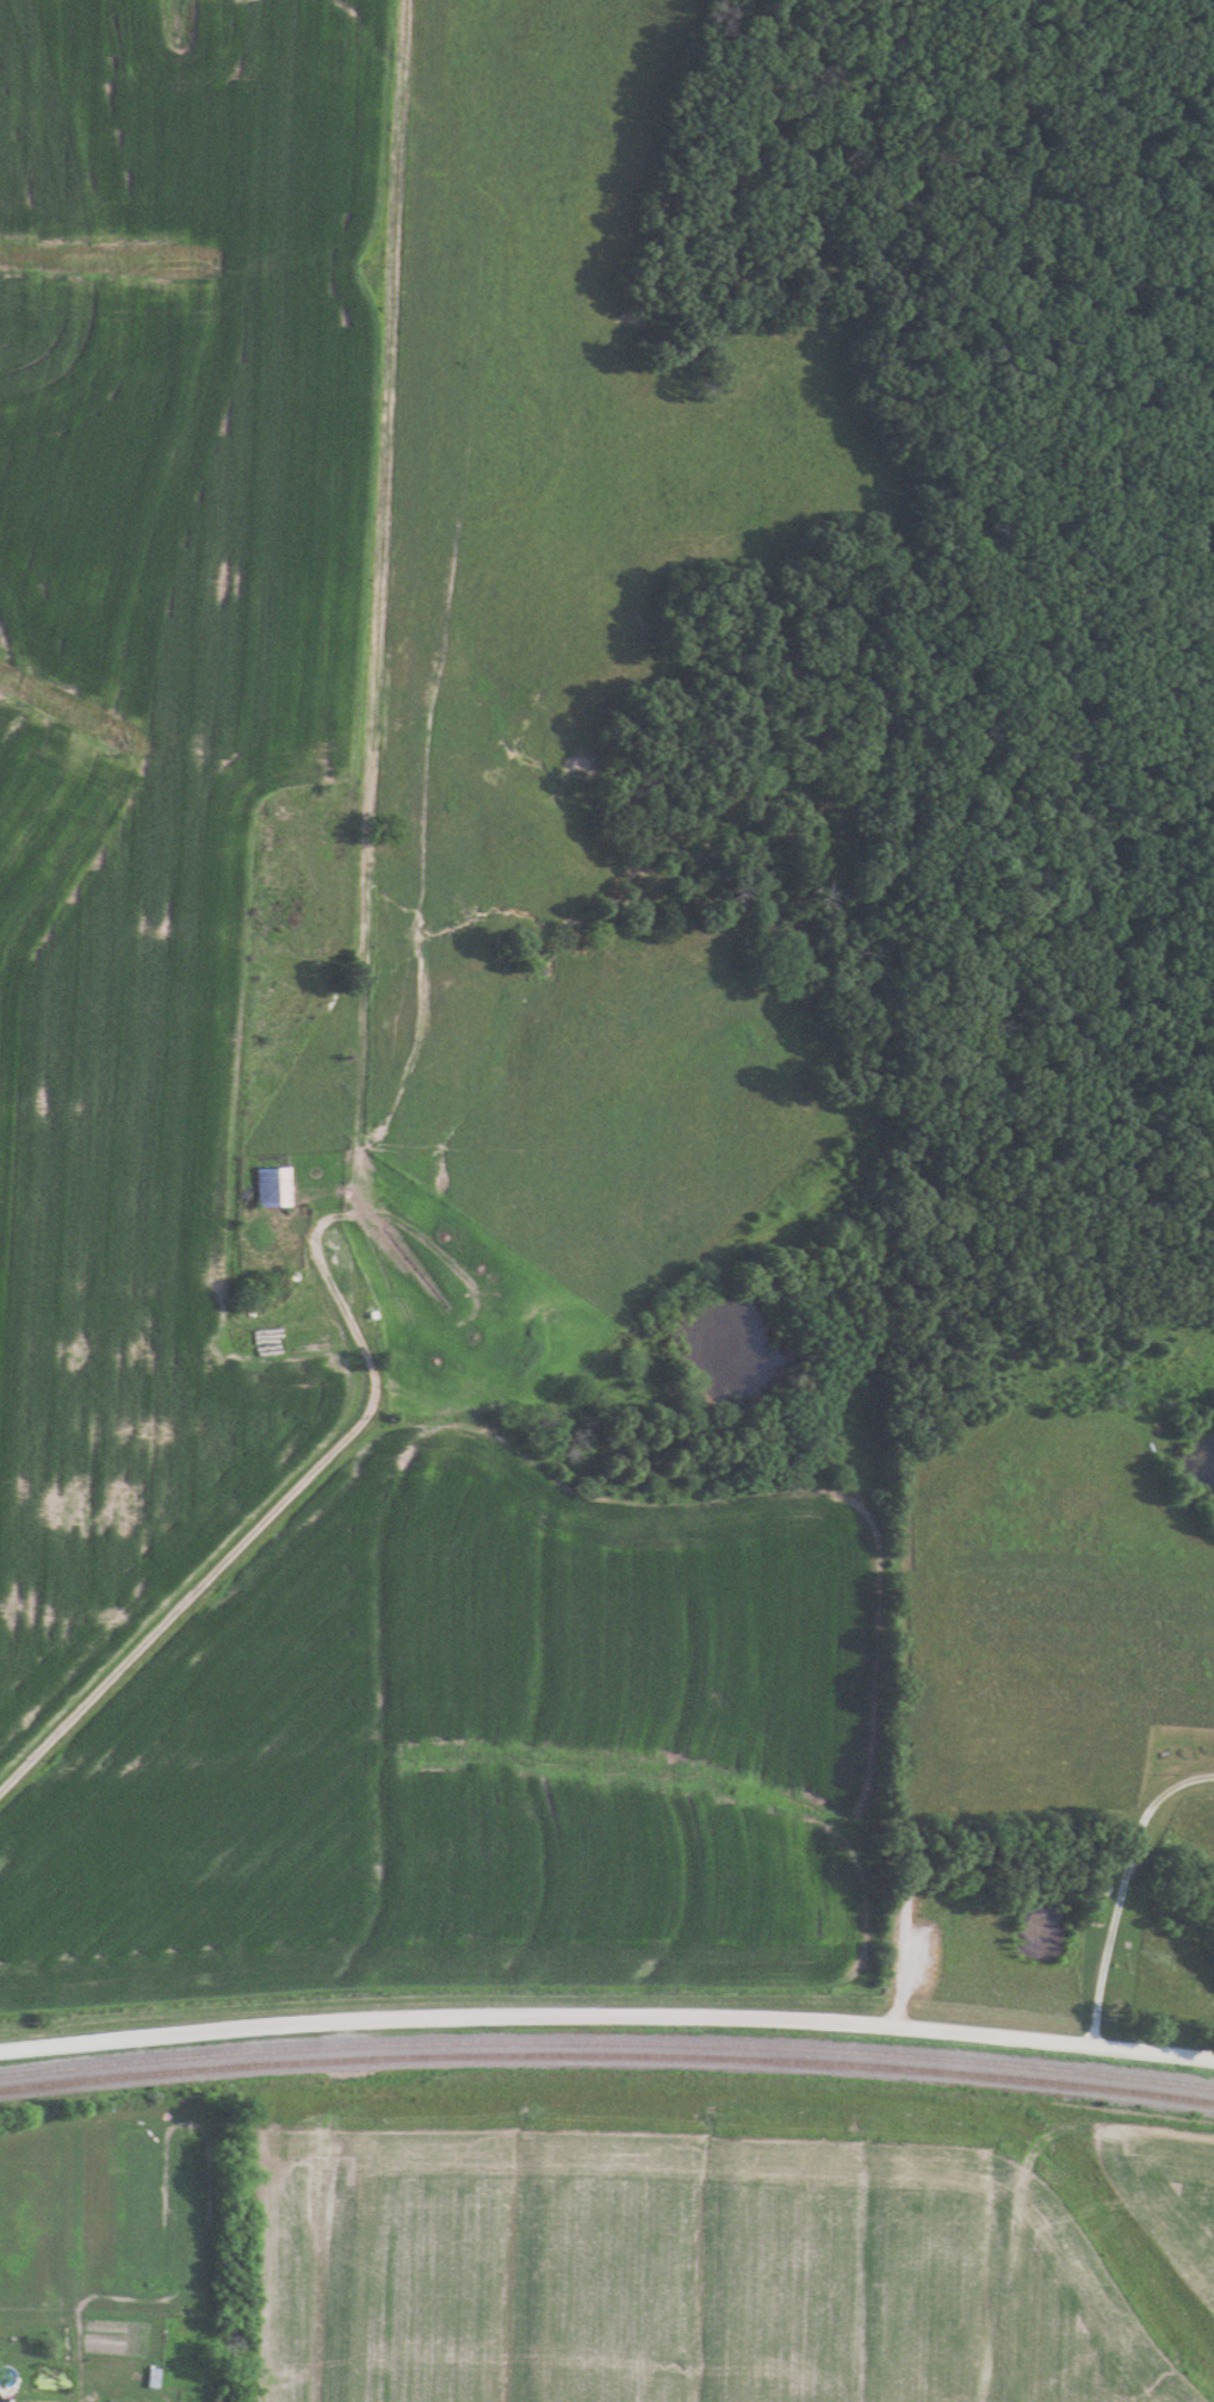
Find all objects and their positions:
building: (268, 1187)
road: (200, 1583)
road: (1113, 1884)
road: (607, 2016)
railway: (607, 2041)
railway: (607, 2056)

